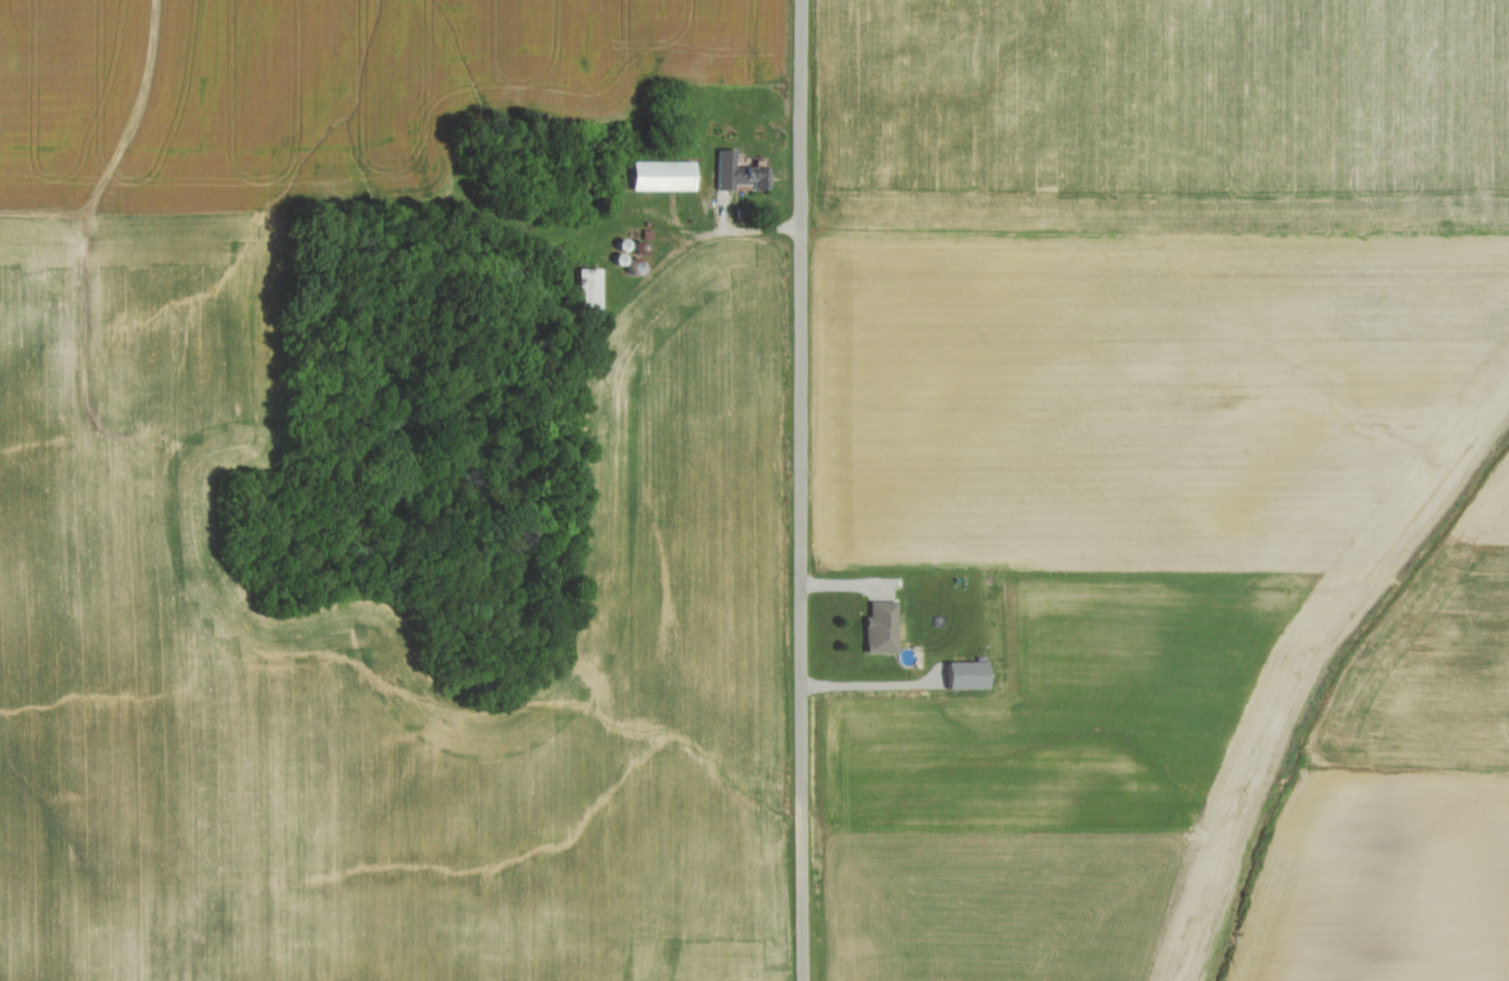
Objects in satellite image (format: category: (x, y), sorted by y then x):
building: (739, 174)
building: (664, 176)
building: (590, 288)
road: (506, 313)
road: (801, 490)
building: (884, 629)

